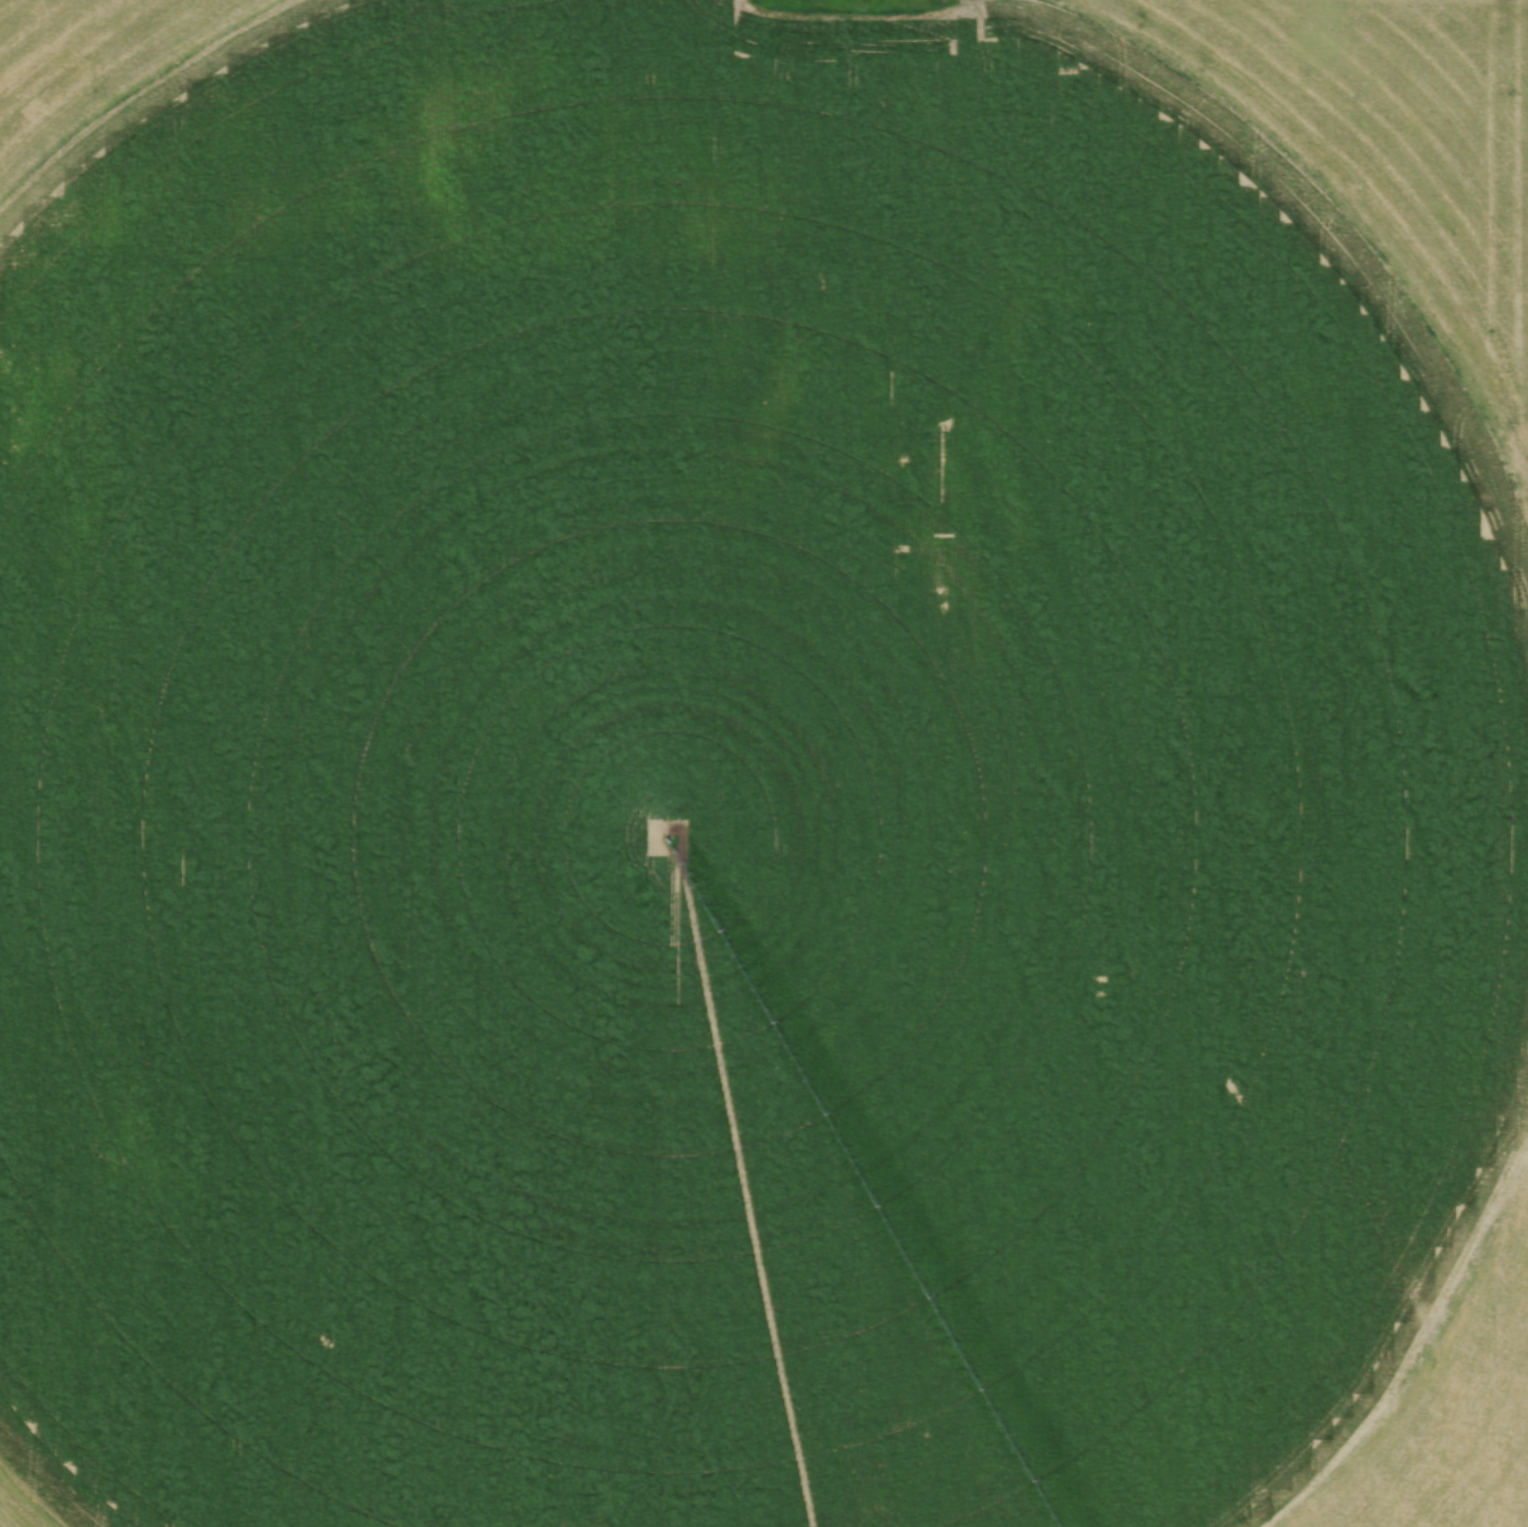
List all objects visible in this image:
crop: (763, 764)

